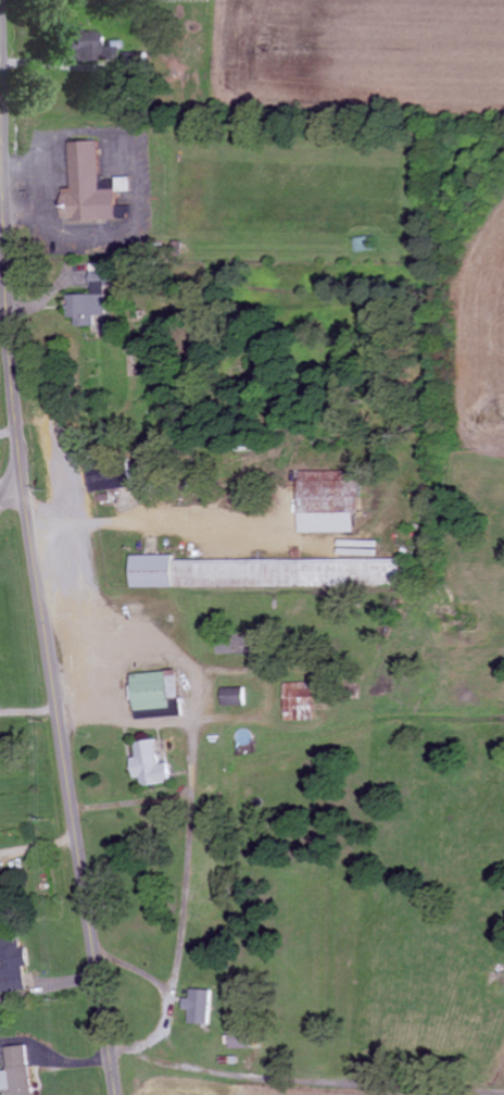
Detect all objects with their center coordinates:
building: (90, 49)
building: (90, 189)
road: (8, 254)
building: (90, 299)
building: (109, 478)
building: (327, 501)
building: (260, 573)
building: (152, 692)
building: (232, 697)
building: (298, 702)
building: (148, 766)
road: (66, 770)
building: (12, 967)
building: (197, 1007)
building: (243, 1042)
building: (16, 1072)

